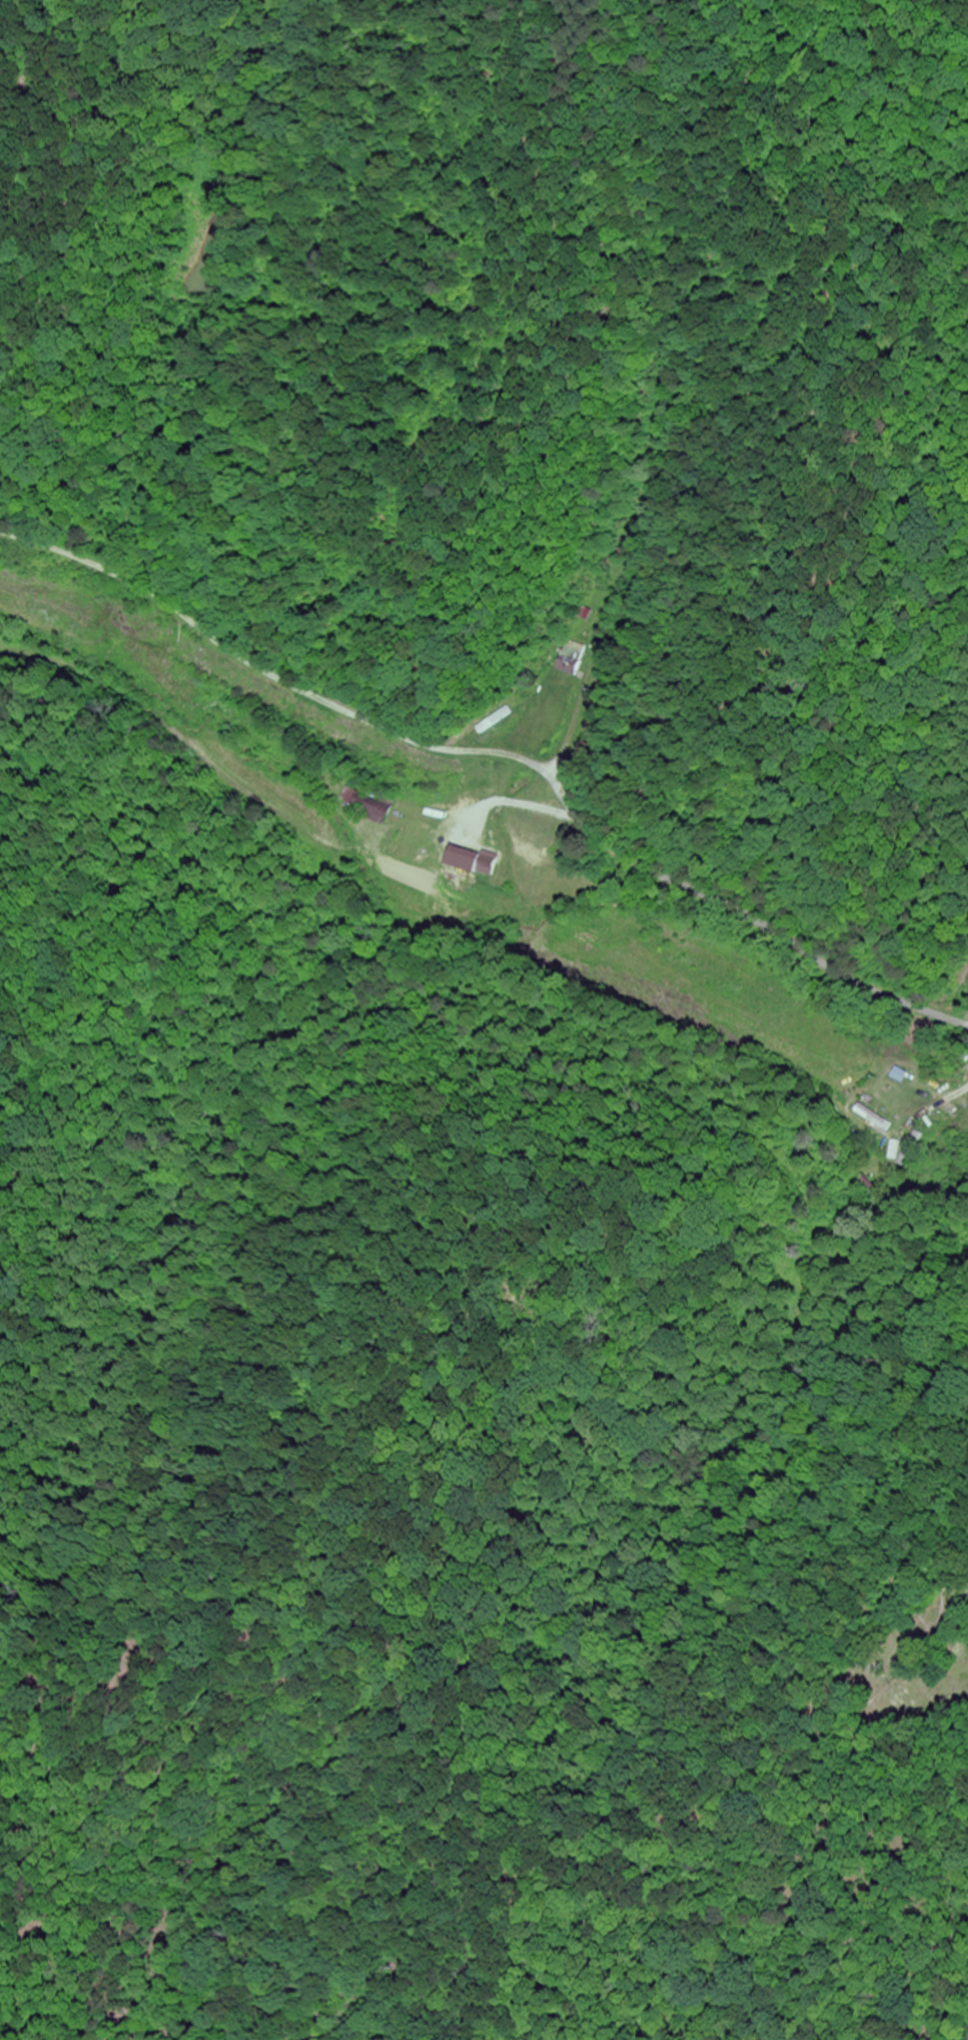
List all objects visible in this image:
building: (614, 557)
building: (571, 655)
building: (363, 808)
building: (485, 863)
road: (747, 915)

